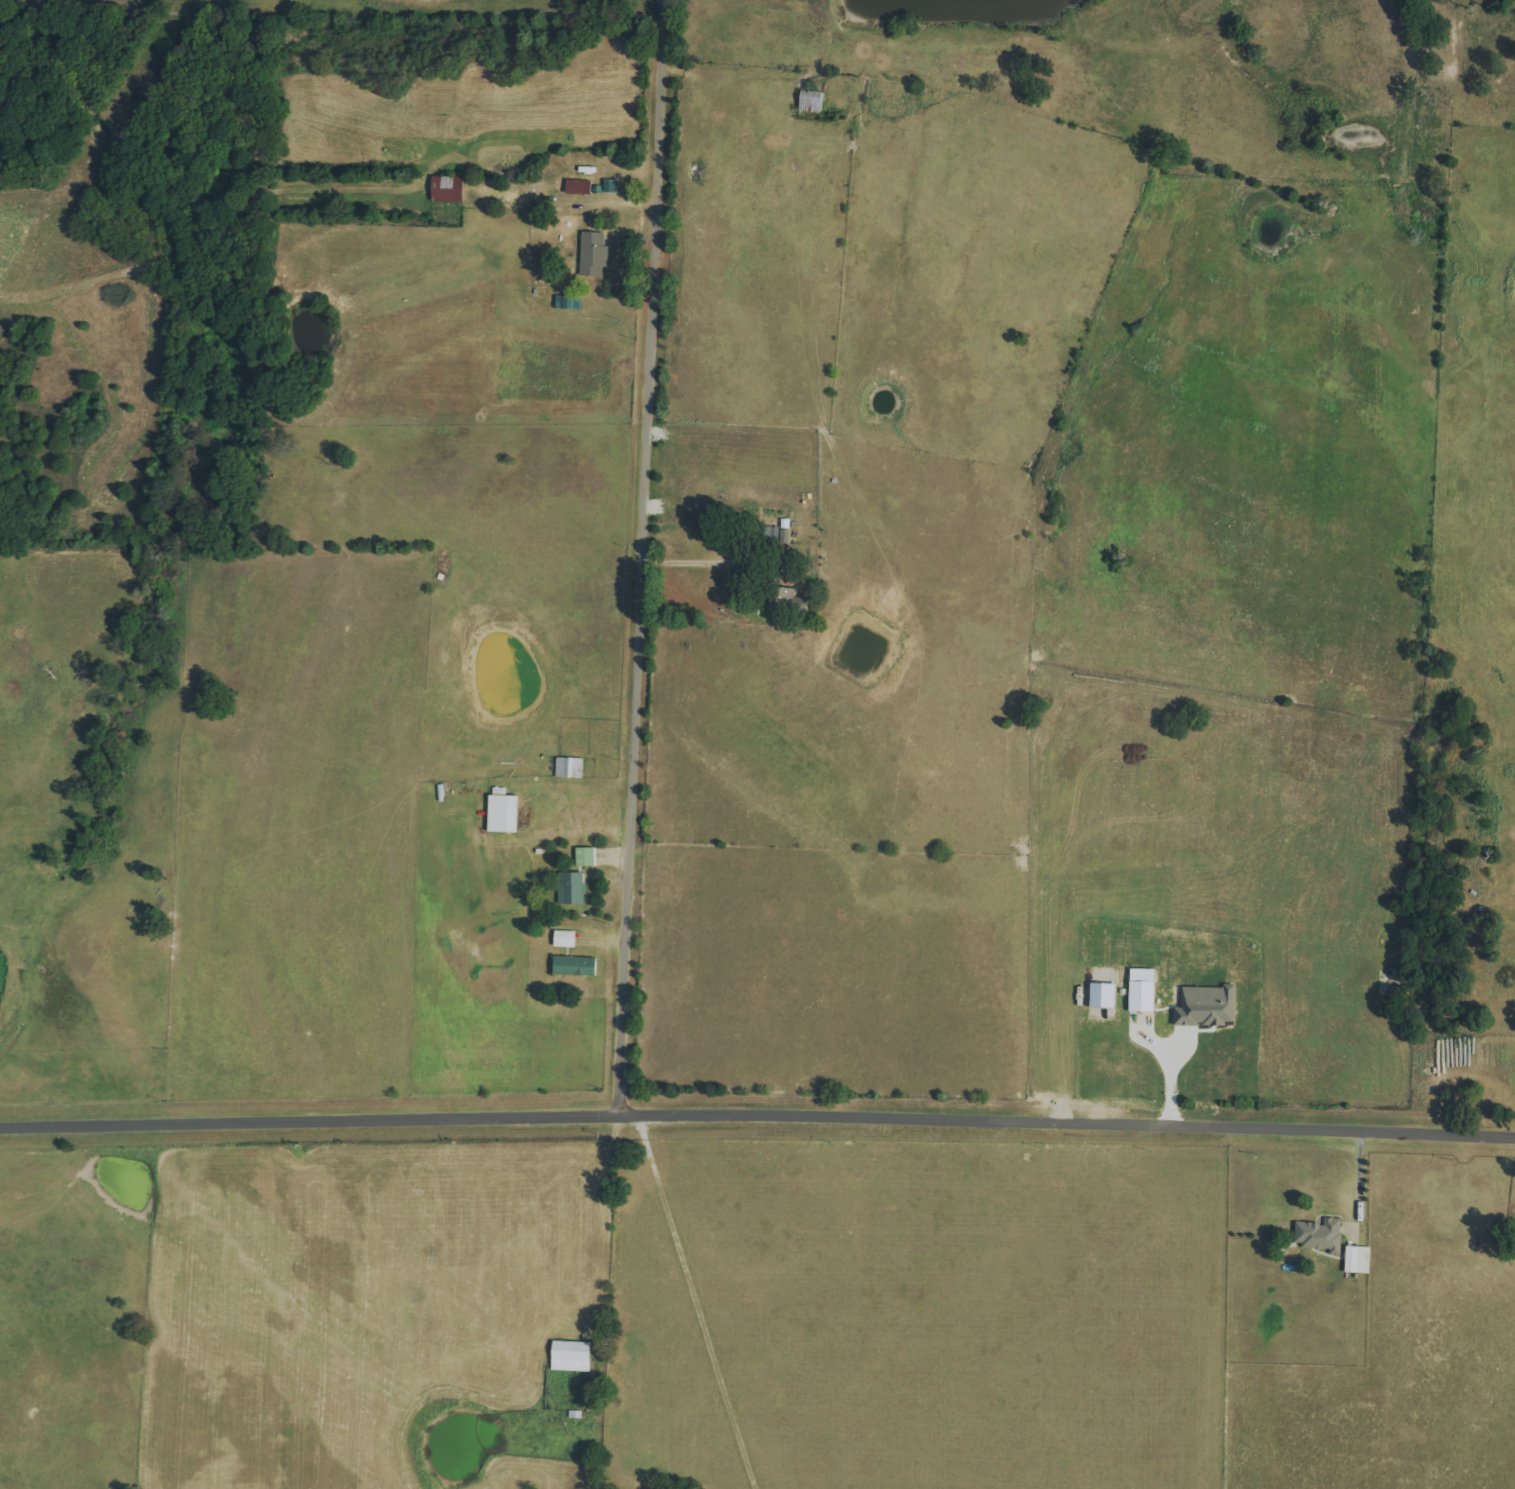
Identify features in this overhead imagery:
building: (578, 187)
building: (446, 189)
building: (592, 255)
building: (539, 281)
road: (643, 555)
road: (702, 556)
building: (789, 597)
building: (568, 767)
building: (501, 811)
building: (585, 856)
building: (570, 888)
building: (564, 938)
building: (574, 966)
building: (1141, 990)
building: (1102, 995)
building: (1205, 1006)
road: (1168, 1070)
road: (757, 1115)
road: (1358, 1180)
building: (1319, 1234)
road: (697, 1301)
building: (570, 1356)

